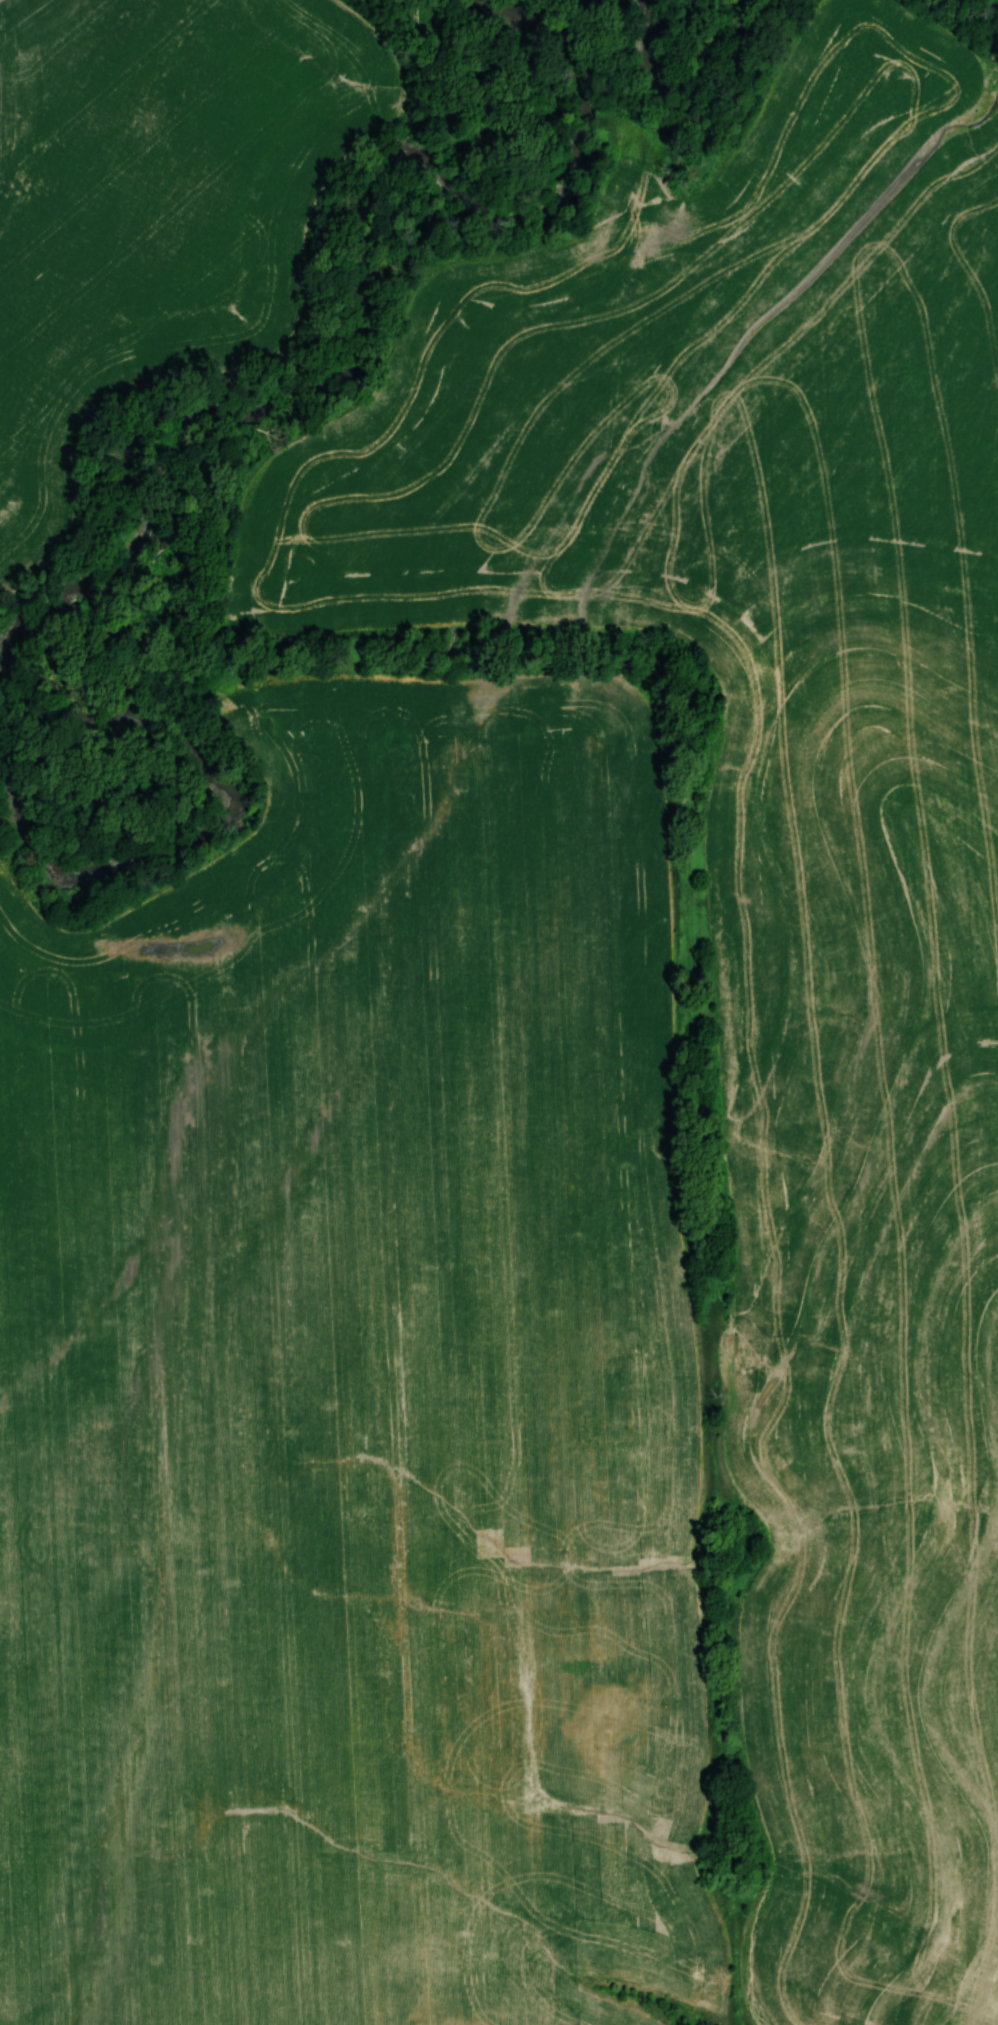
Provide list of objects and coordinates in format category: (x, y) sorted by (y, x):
river: (700, 84)
river: (141, 458)

